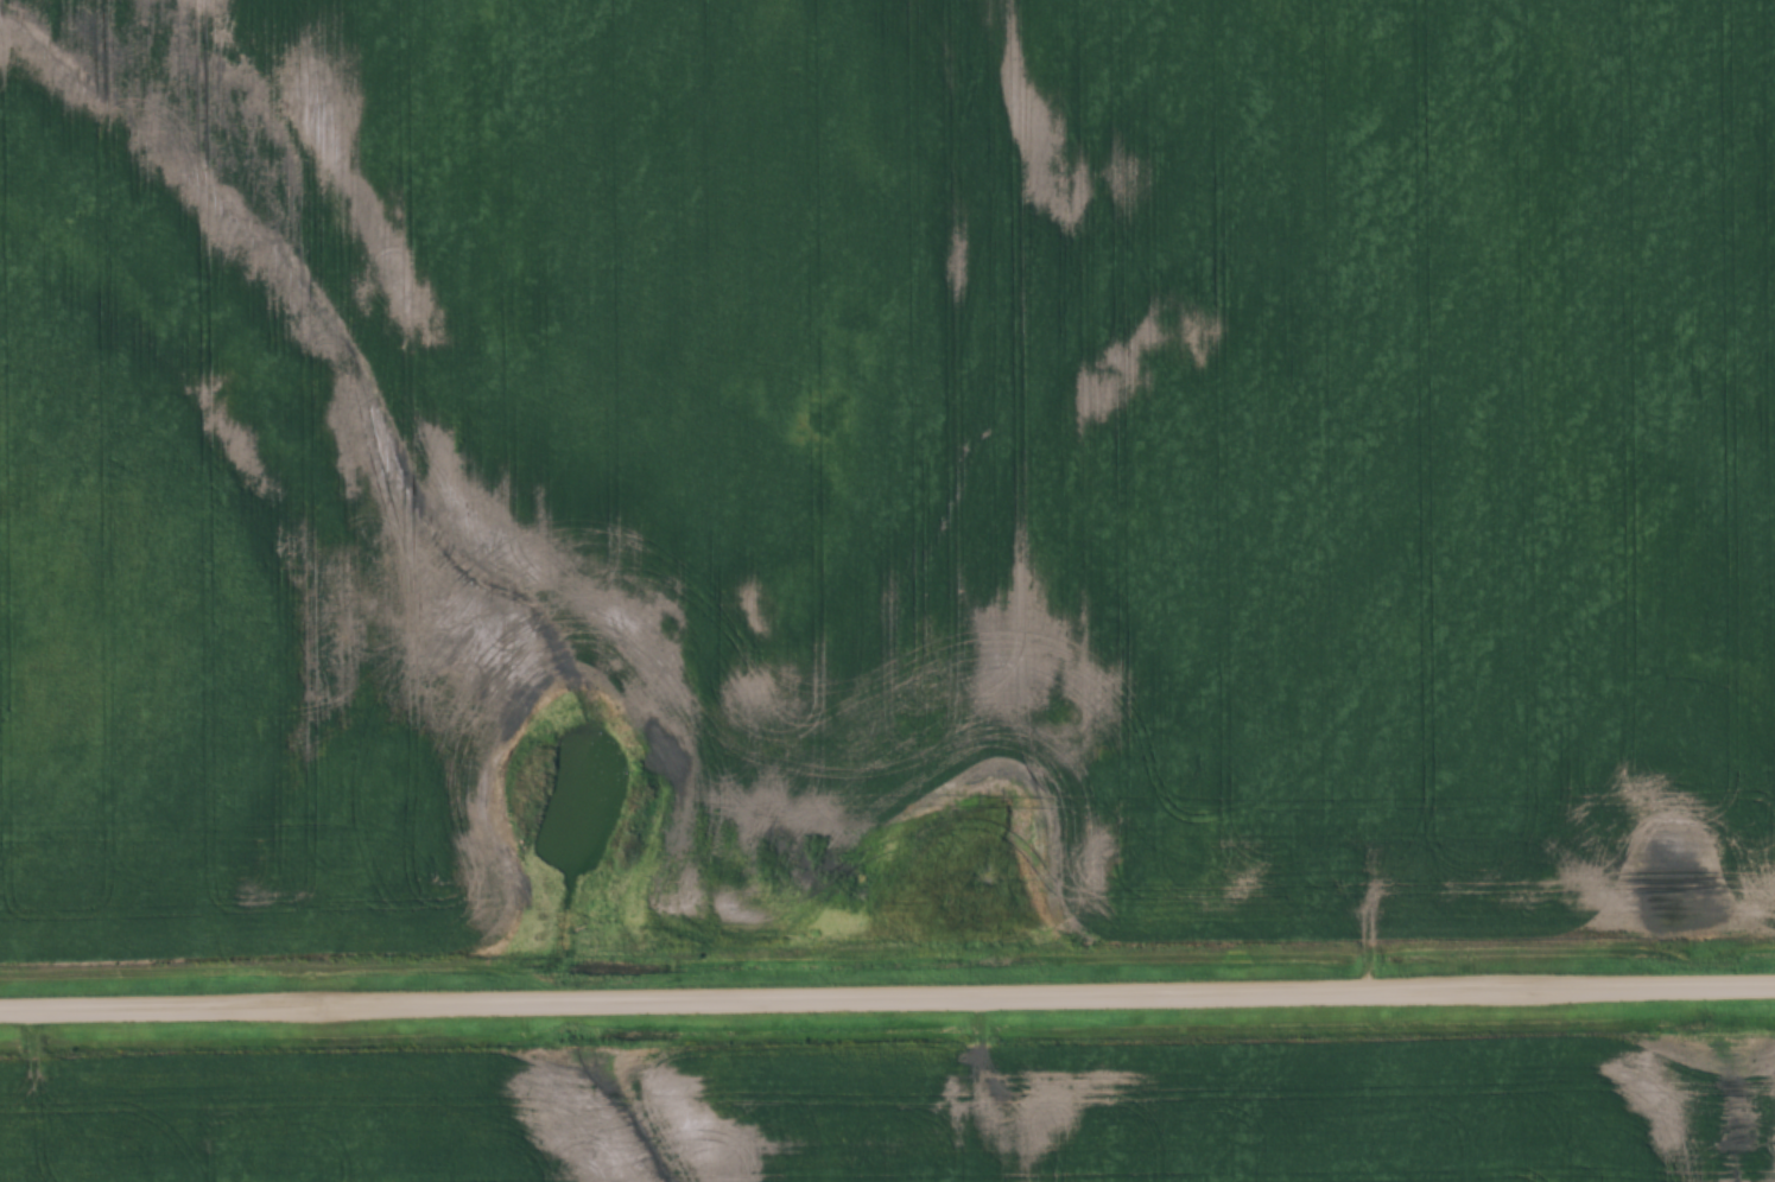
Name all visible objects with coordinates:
road: (887, 999)

